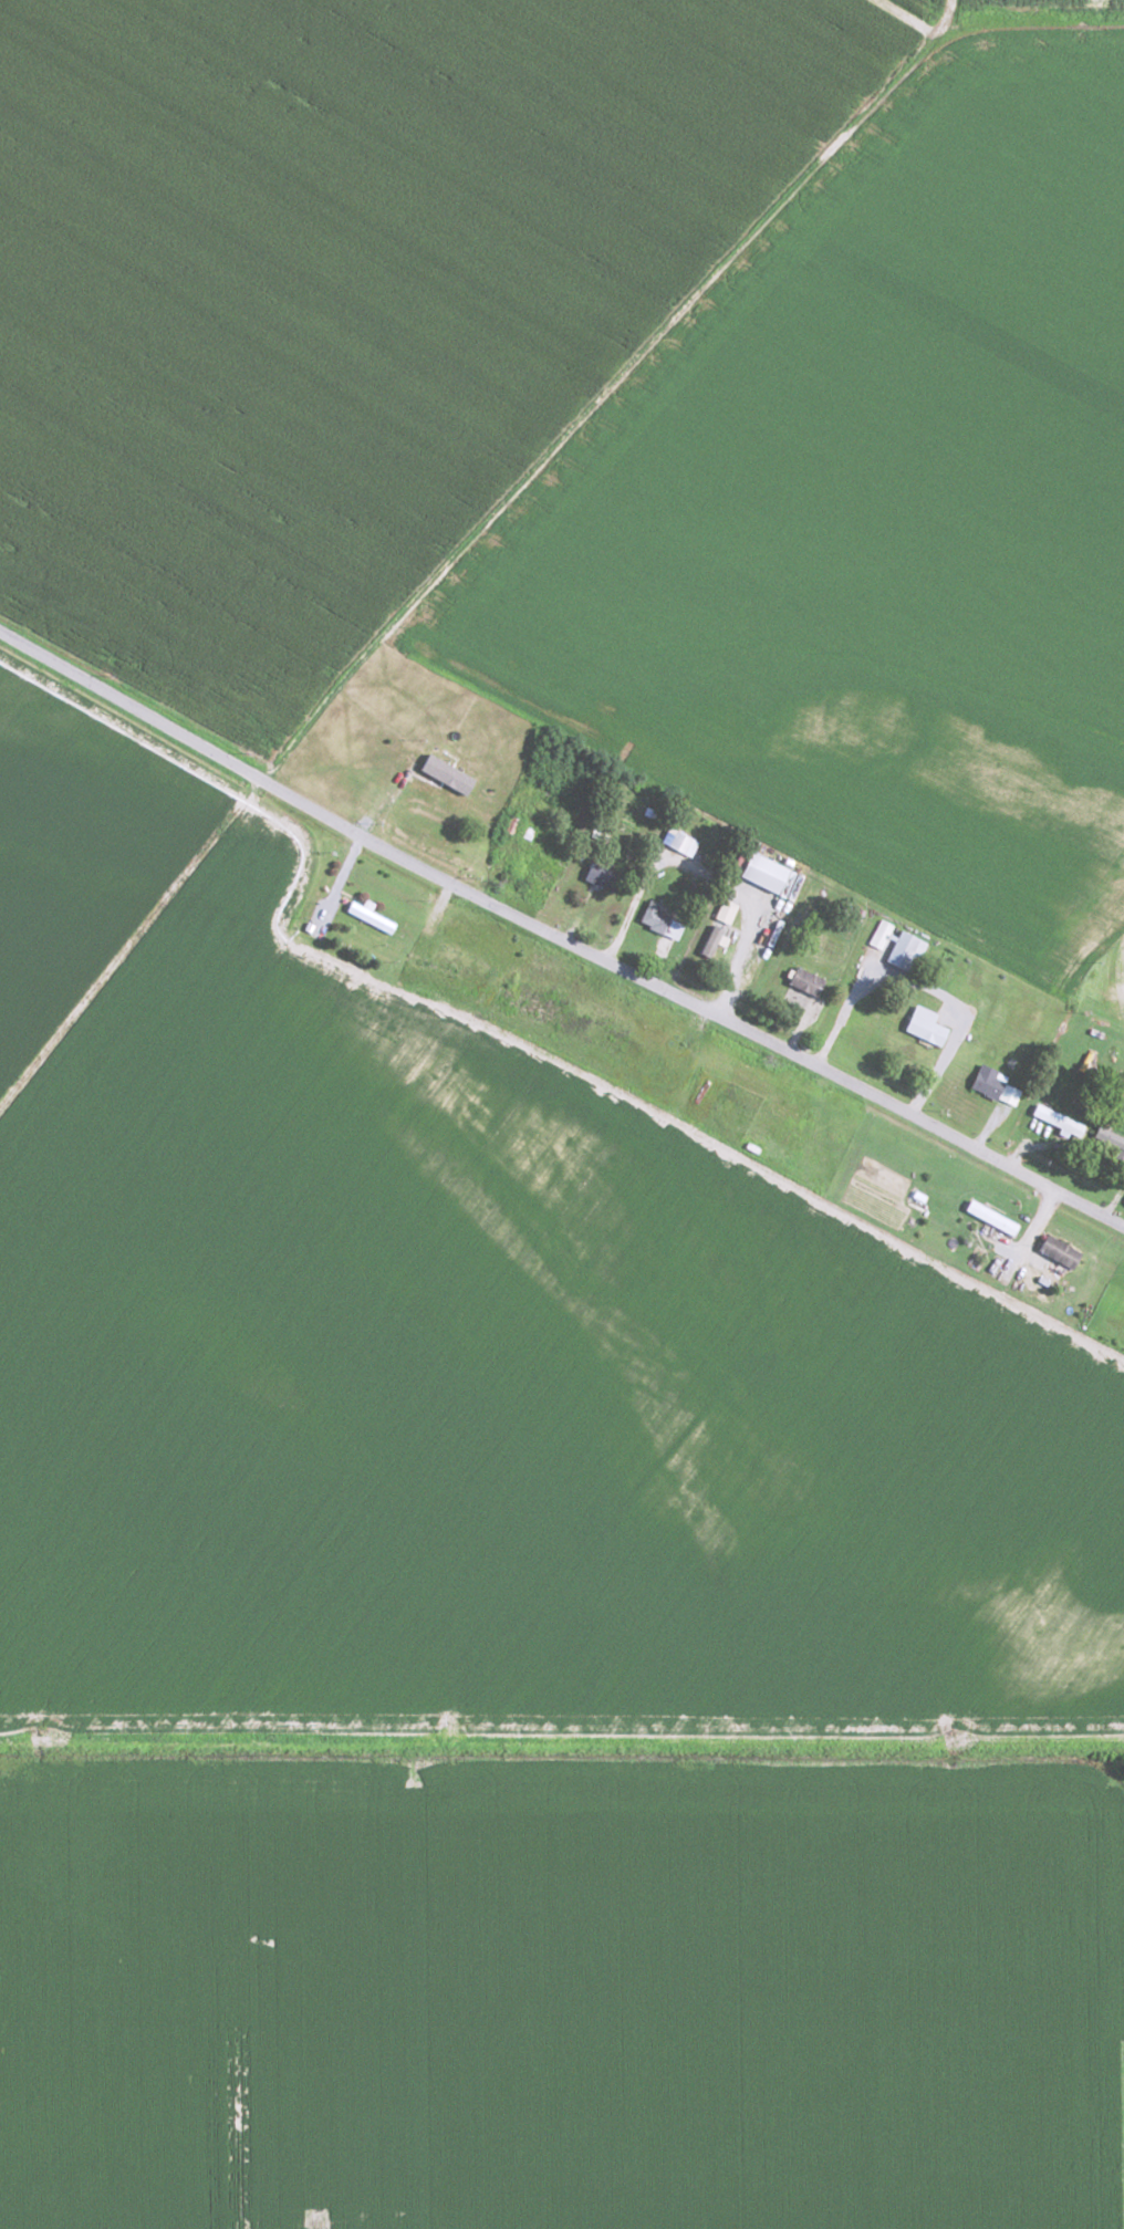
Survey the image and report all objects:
road: (1035, 23)
road: (465, 534)
building: (417, 789)
building: (552, 811)
building: (779, 871)
building: (882, 934)
road: (558, 937)
building: (712, 940)
building: (906, 950)
building: (808, 980)
building: (927, 1024)
building: (996, 1085)
building: (1060, 1119)
building: (1112, 1140)
building: (993, 1216)
building: (1061, 1251)
road: (562, 1733)

